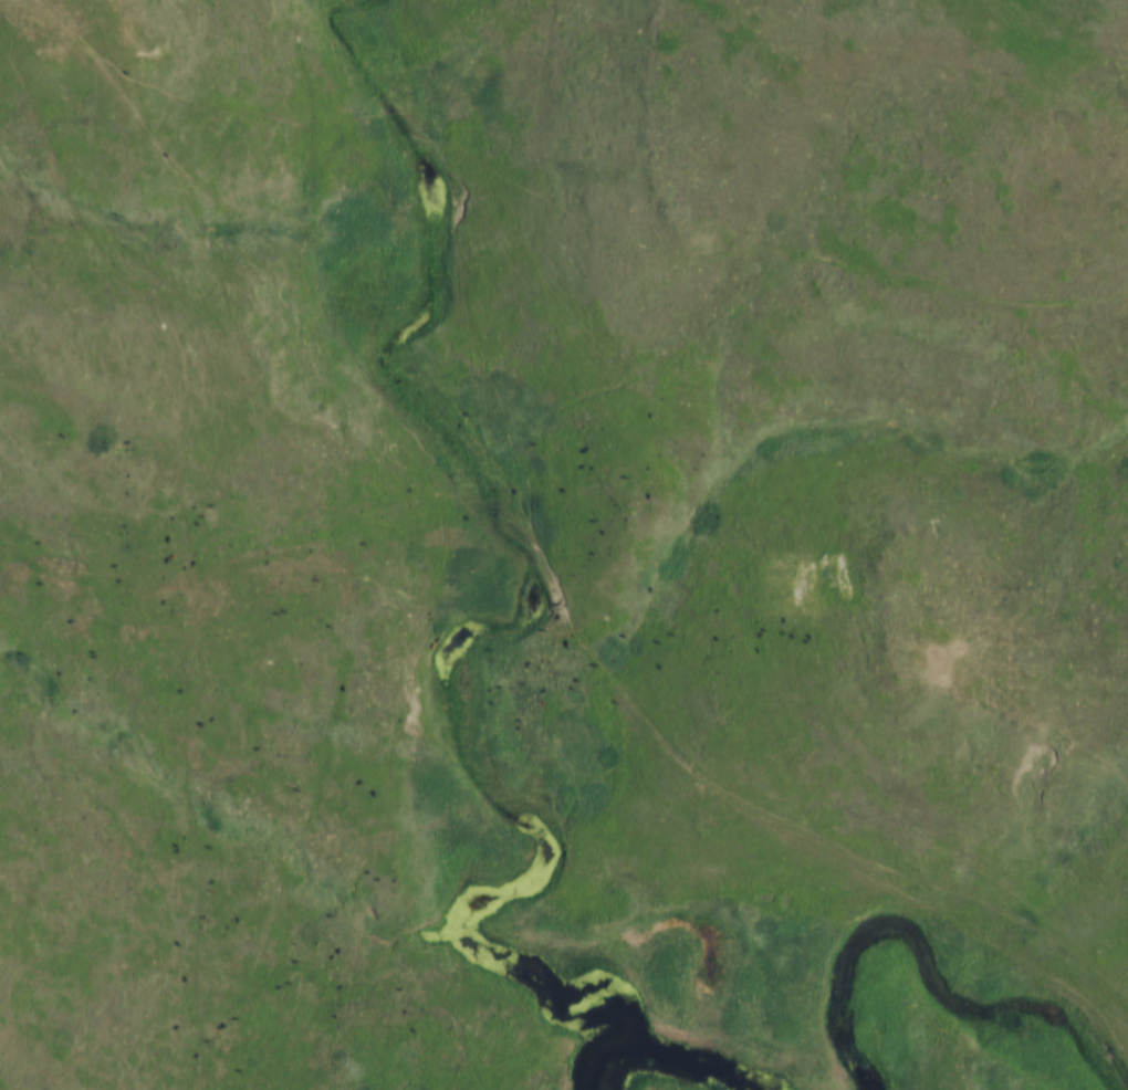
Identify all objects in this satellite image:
road: (638, 568)

